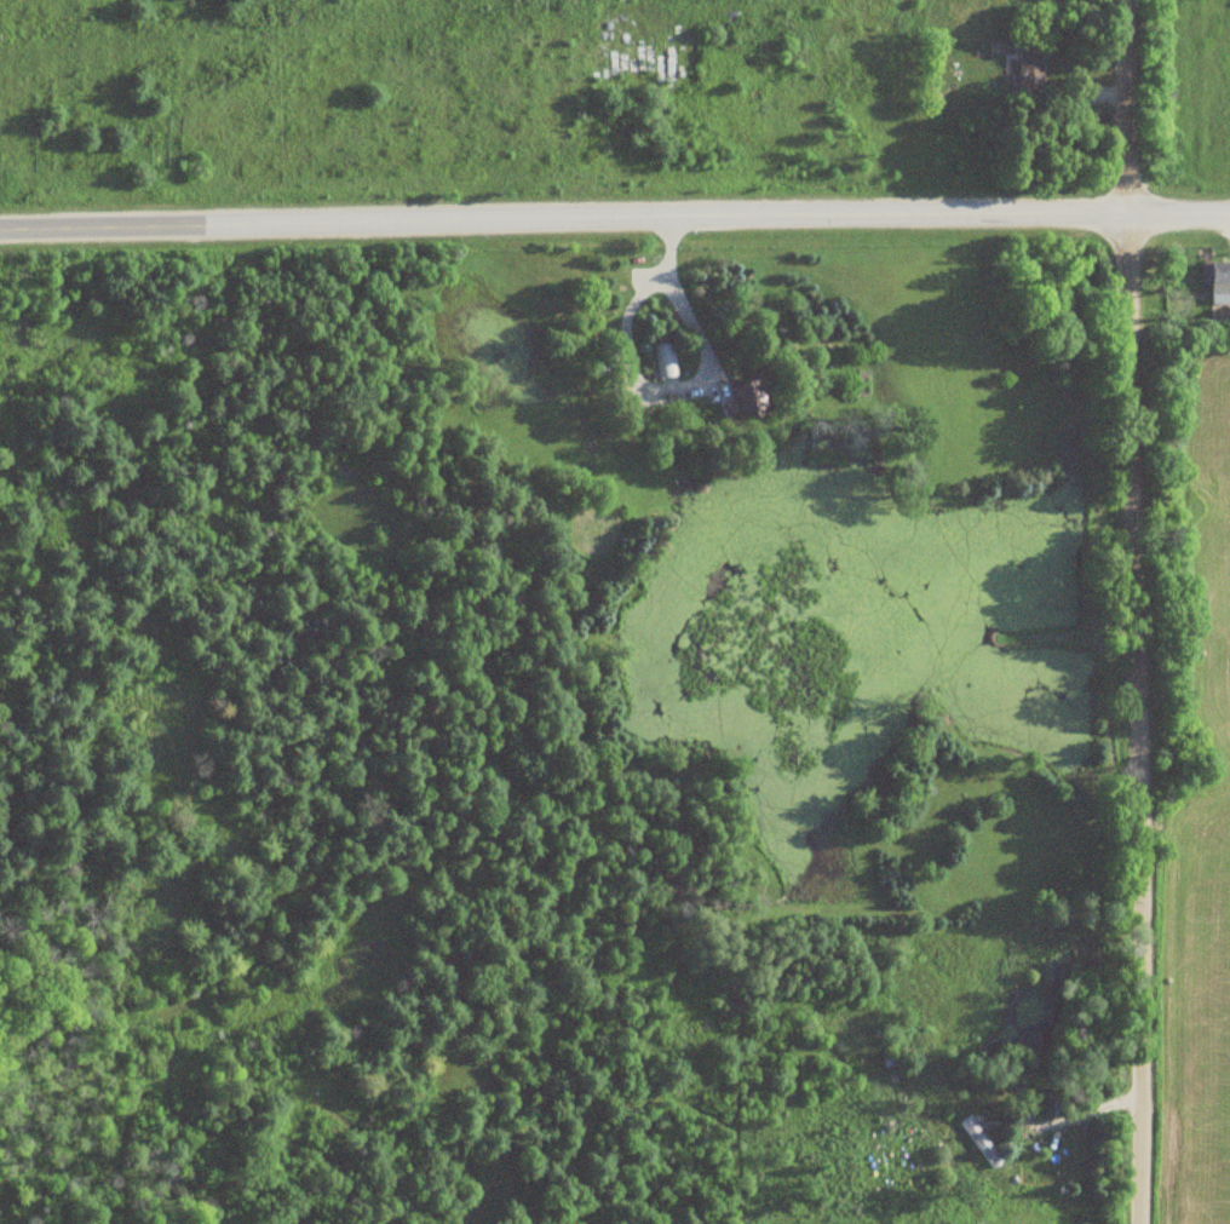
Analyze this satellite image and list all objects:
building: (1028, 62)
road: (614, 220)
building: (1215, 275)
building: (662, 360)
building: (748, 397)
road: (1138, 611)
building: (979, 1142)

